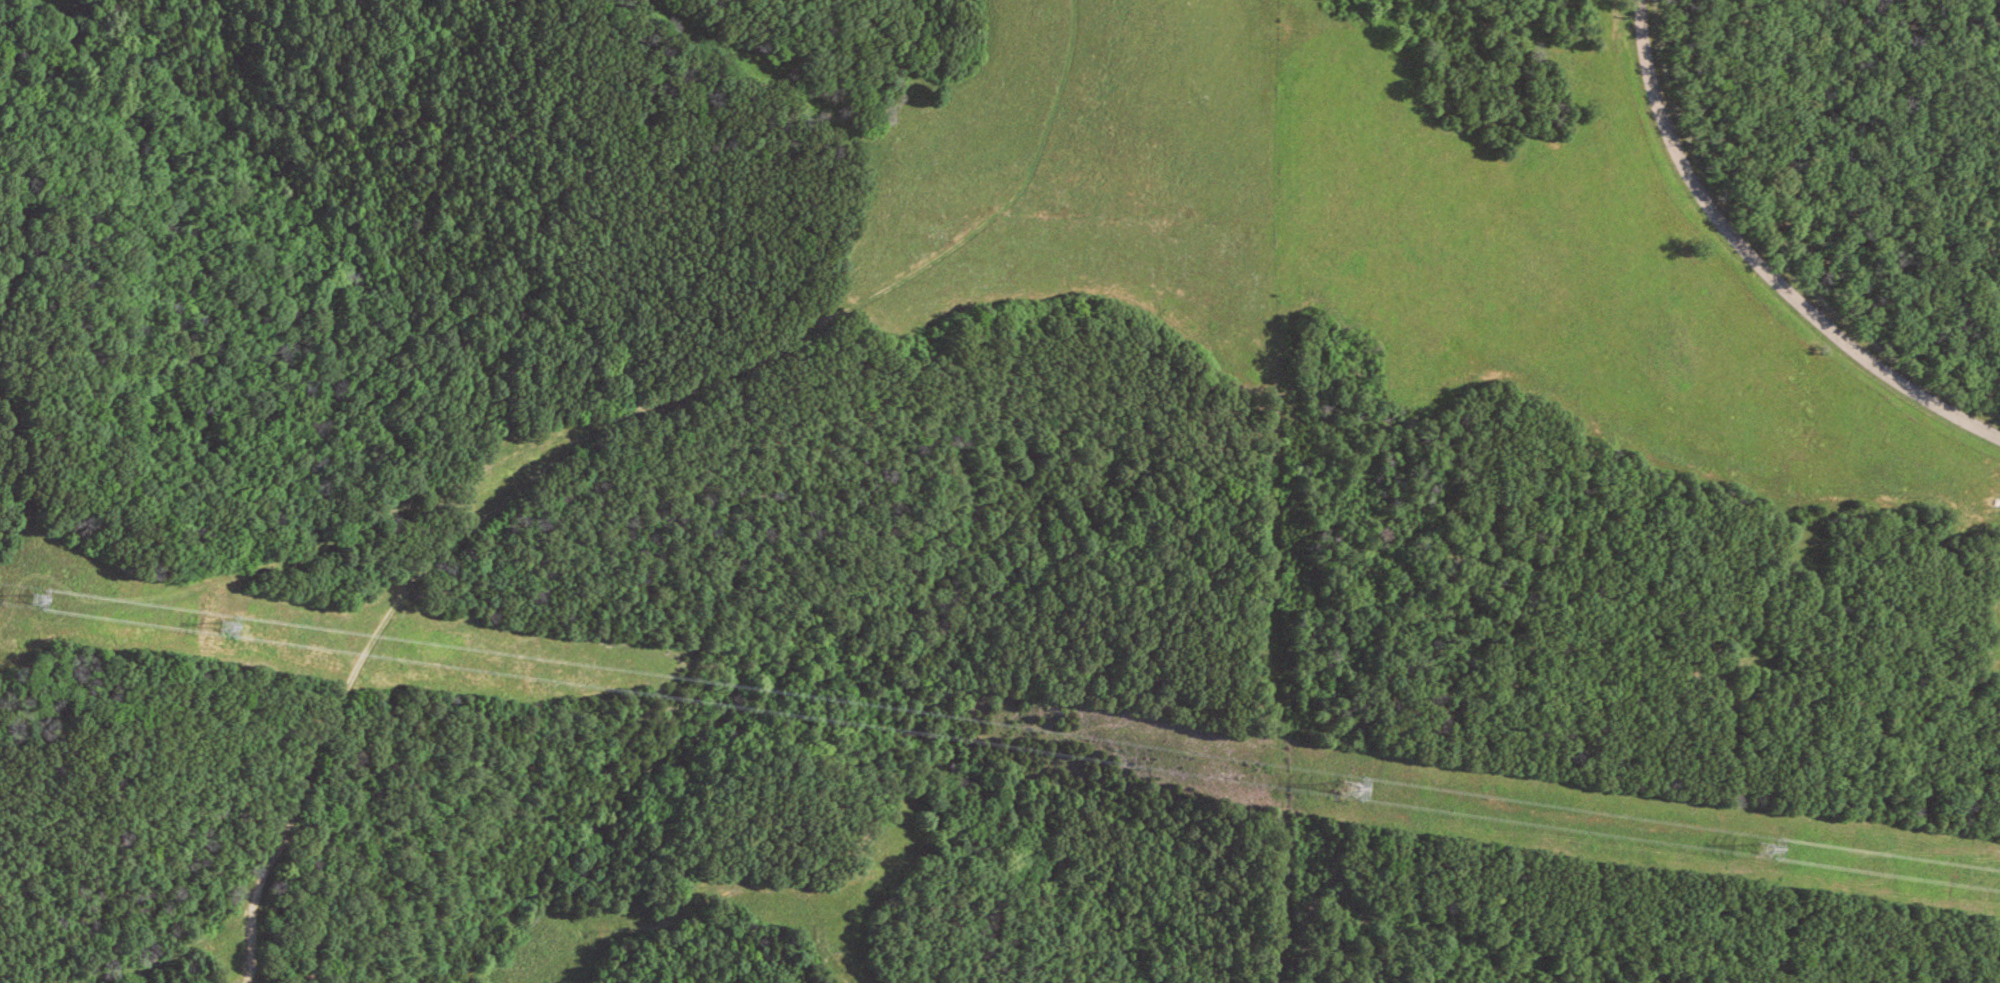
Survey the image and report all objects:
road: (1761, 264)

